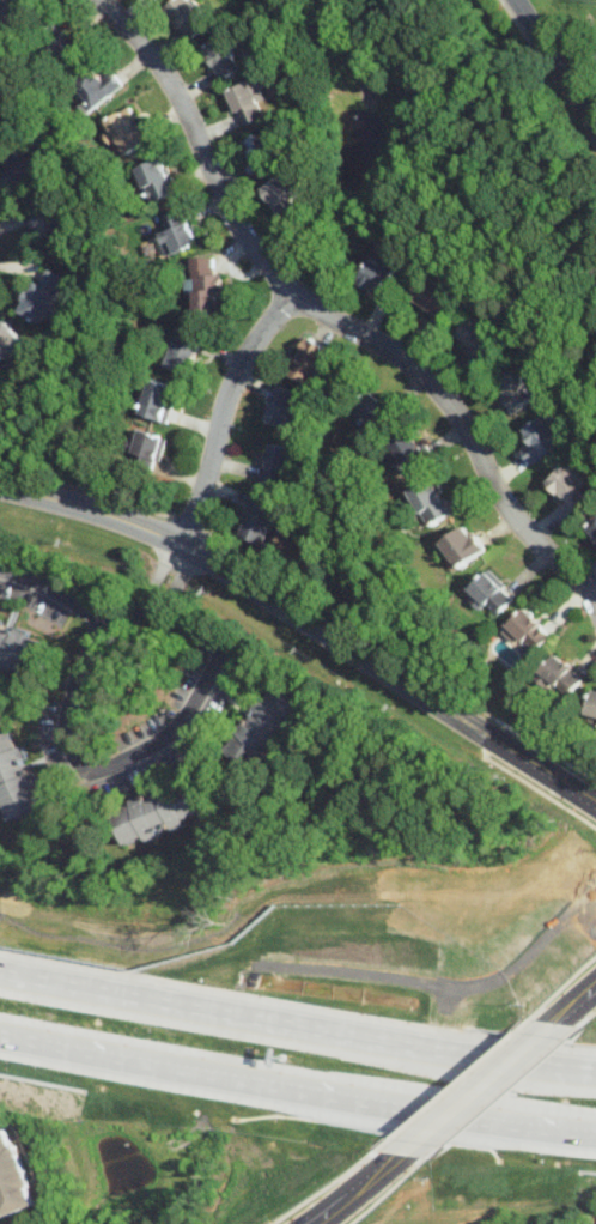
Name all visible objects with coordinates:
building: (187, 17)
building: (12, 20)
building: (61, 44)
building: (595, 49)
building: (224, 59)
road: (555, 63)
building: (101, 86)
building: (245, 99)
road: (588, 101)
building: (130, 131)
building: (262, 156)
building: (30, 165)
building: (157, 181)
building: (284, 196)
building: (53, 224)
building: (178, 232)
building: (379, 275)
building: (207, 287)
building: (42, 295)
building: (432, 301)
road: (323, 314)
building: (8, 339)
building: (479, 340)
building: (184, 351)
building: (311, 362)
building: (516, 388)
building: (157, 399)
building: (284, 406)
building: (372, 410)
road: (224, 413)
building: (542, 437)
building: (150, 448)
building: (409, 450)
building: (279, 463)
building: (571, 486)
building: (431, 502)
building: (260, 521)
building: (594, 527)
building: (462, 545)
road: (51, 588)
road: (257, 588)
building: (492, 592)
road: (308, 600)
building: (530, 630)
building: (23, 650)
building: (560, 674)
building: (591, 704)
building: (595, 720)
building: (264, 728)
road: (498, 731)
road: (75, 765)
road: (545, 771)
building: (17, 778)
building: (159, 814)
road: (592, 987)
road: (564, 1012)
road: (297, 1029)
road: (476, 1089)
road: (297, 1092)
road: (384, 1168)
building: (13, 1176)
road: (335, 1208)

